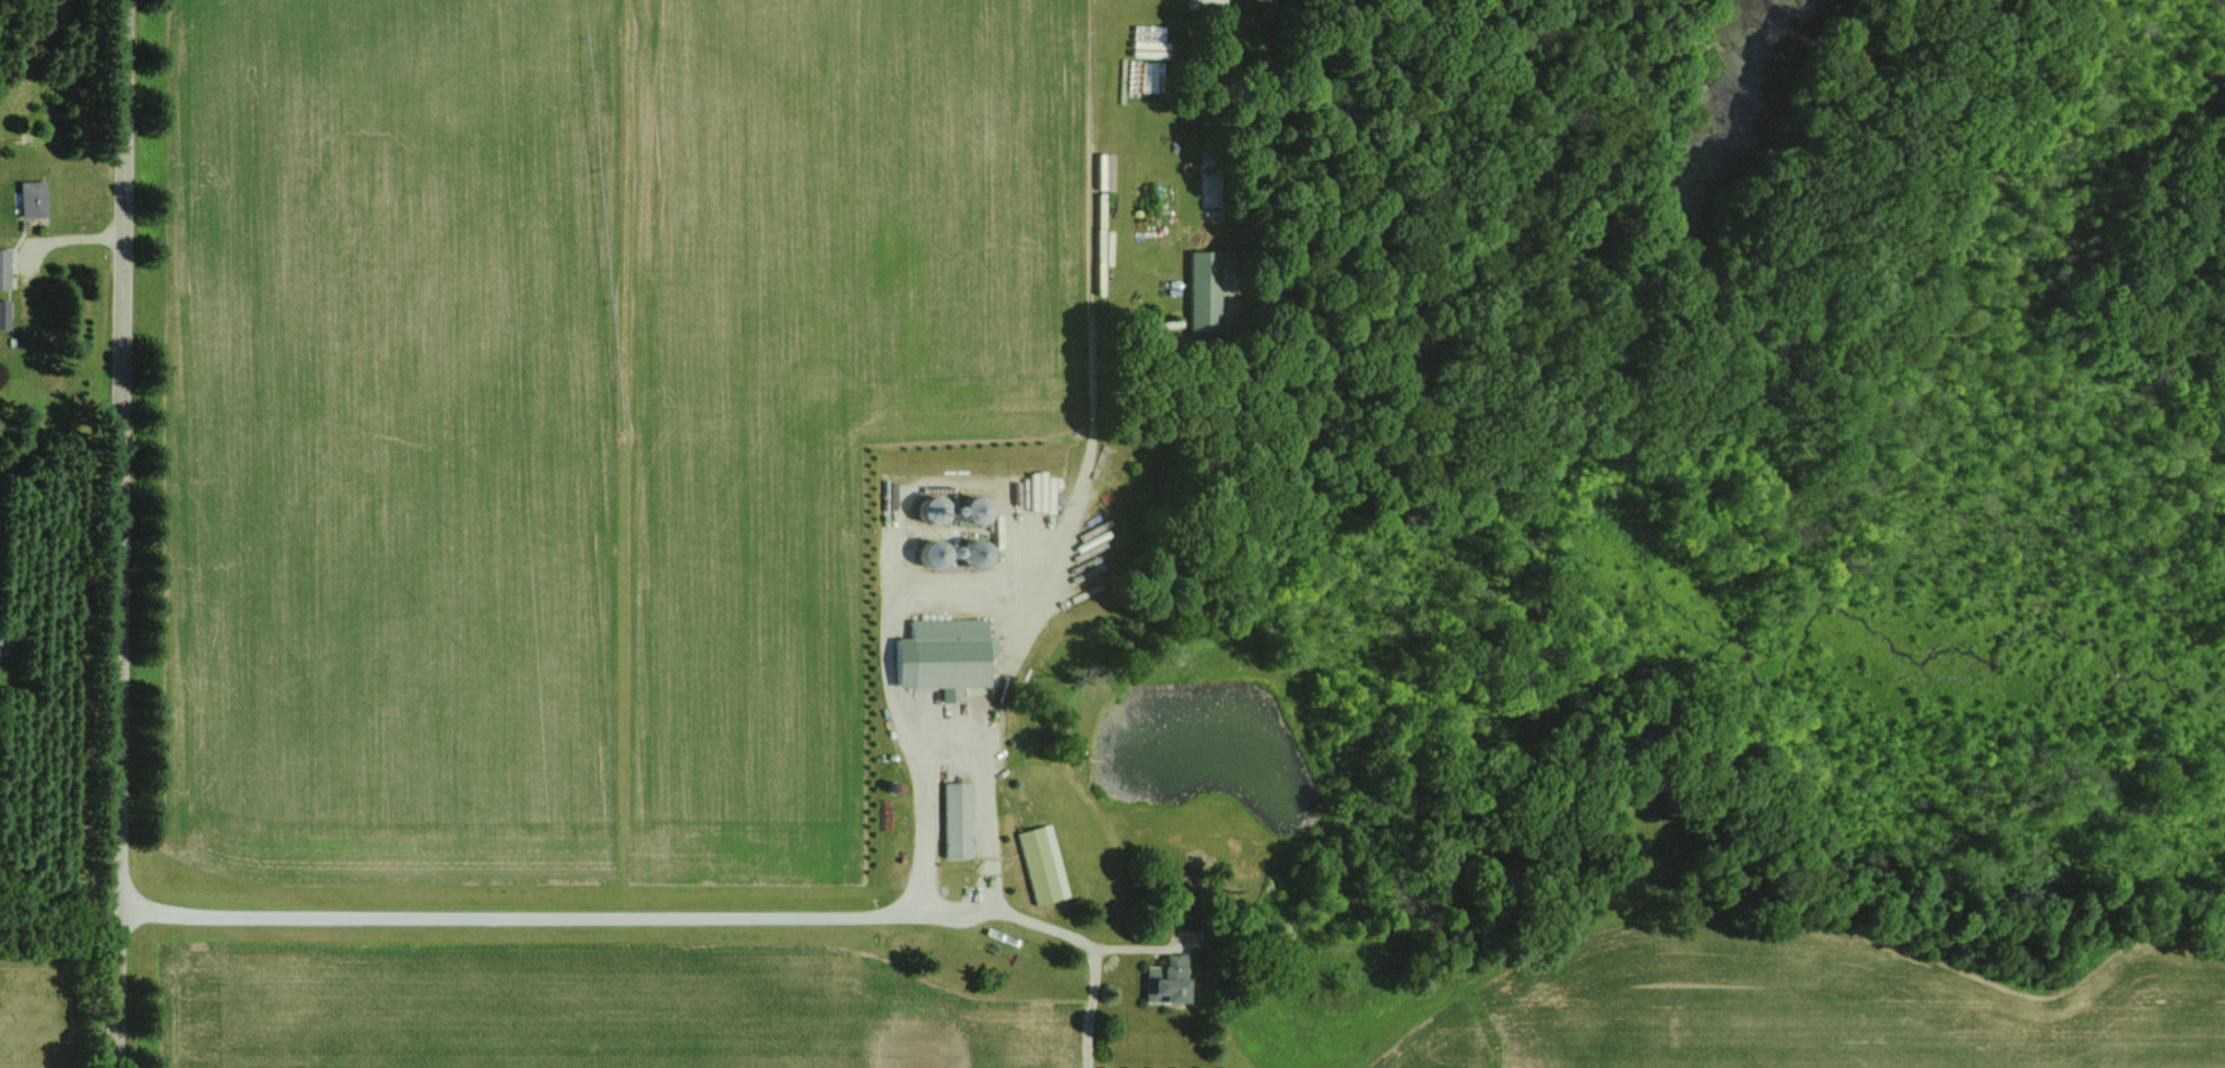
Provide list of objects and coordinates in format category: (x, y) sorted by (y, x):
building: (32, 199)
road: (61, 239)
building: (4, 269)
building: (1200, 290)
building: (4, 315)
road: (115, 534)
building: (940, 548)
road: (951, 752)
building: (952, 820)
building: (1040, 865)
road: (604, 911)
building: (1163, 981)

